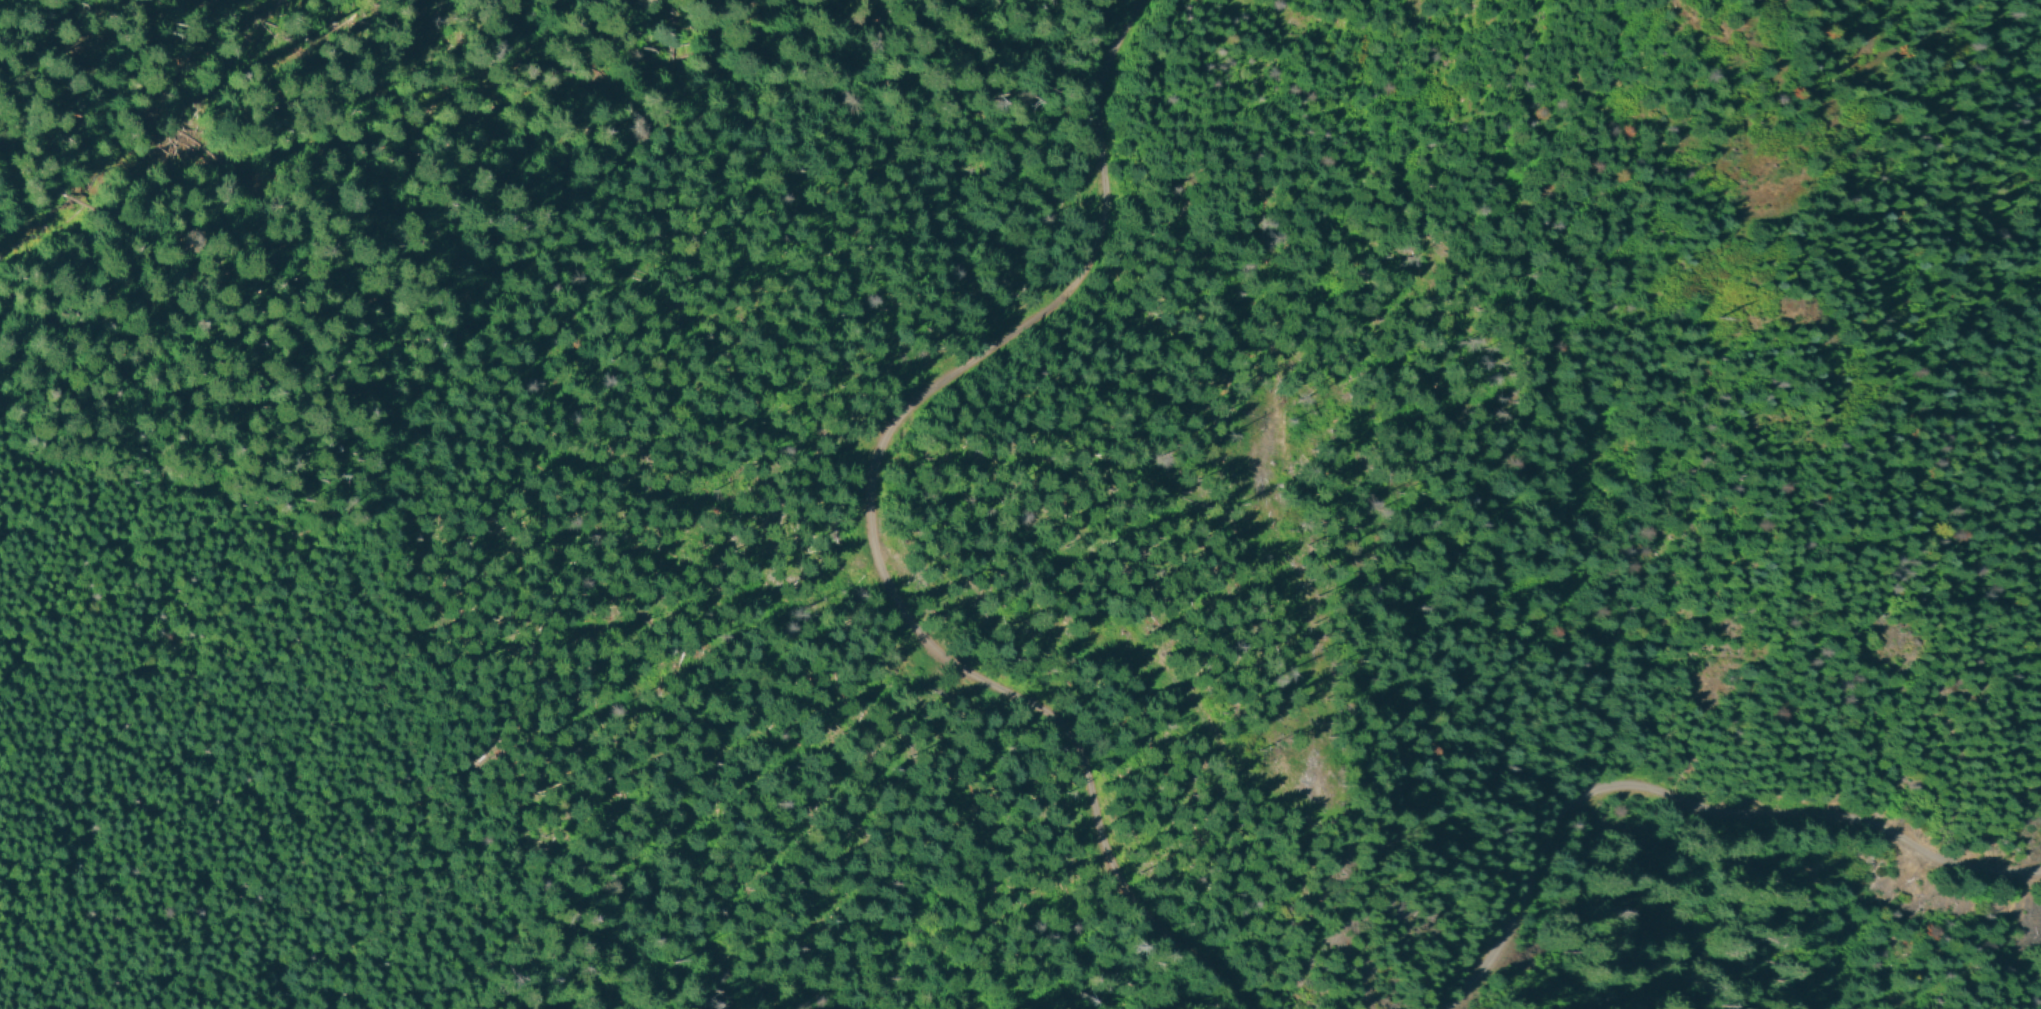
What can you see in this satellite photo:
road: (862, 523)
road: (1682, 806)

